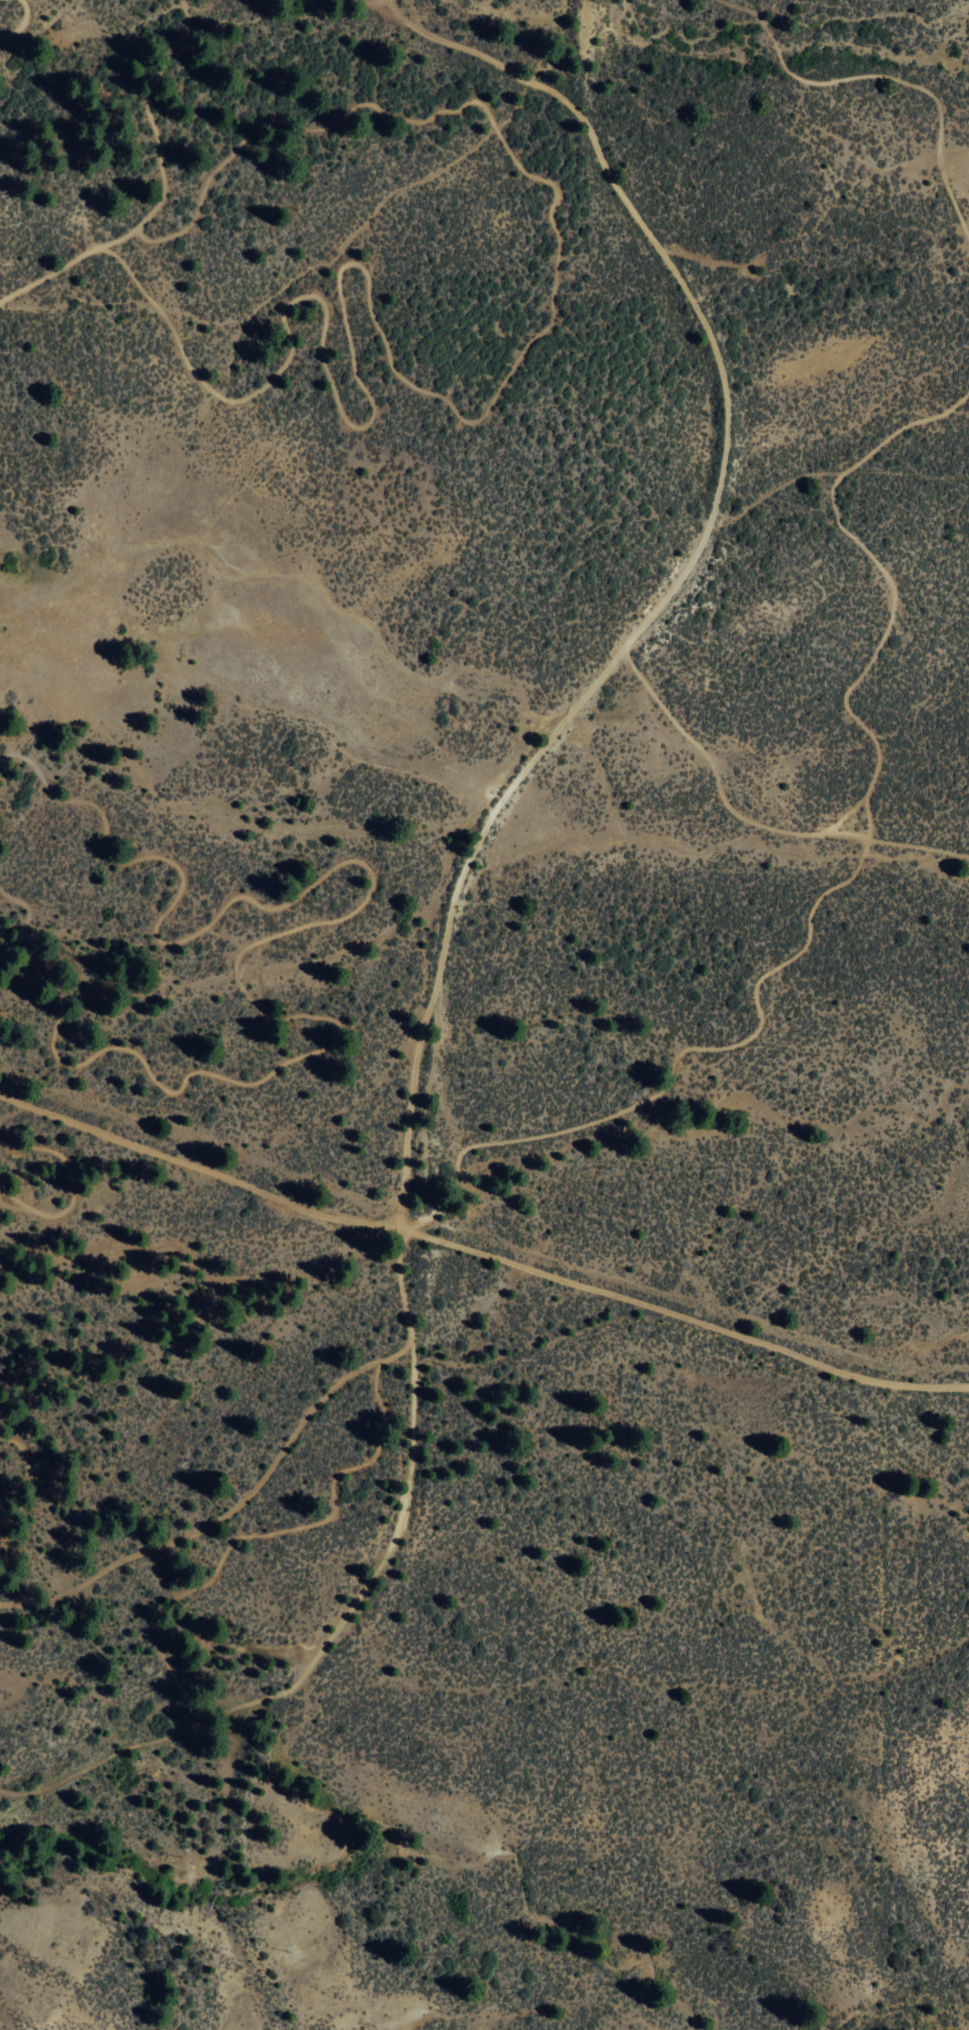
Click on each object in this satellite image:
road: (883, 75)
road: (773, 488)
road: (748, 821)
road: (834, 884)
road: (449, 902)
road: (197, 1167)
road: (681, 1316)
crop: (911, 1450)
road: (228, 1509)

